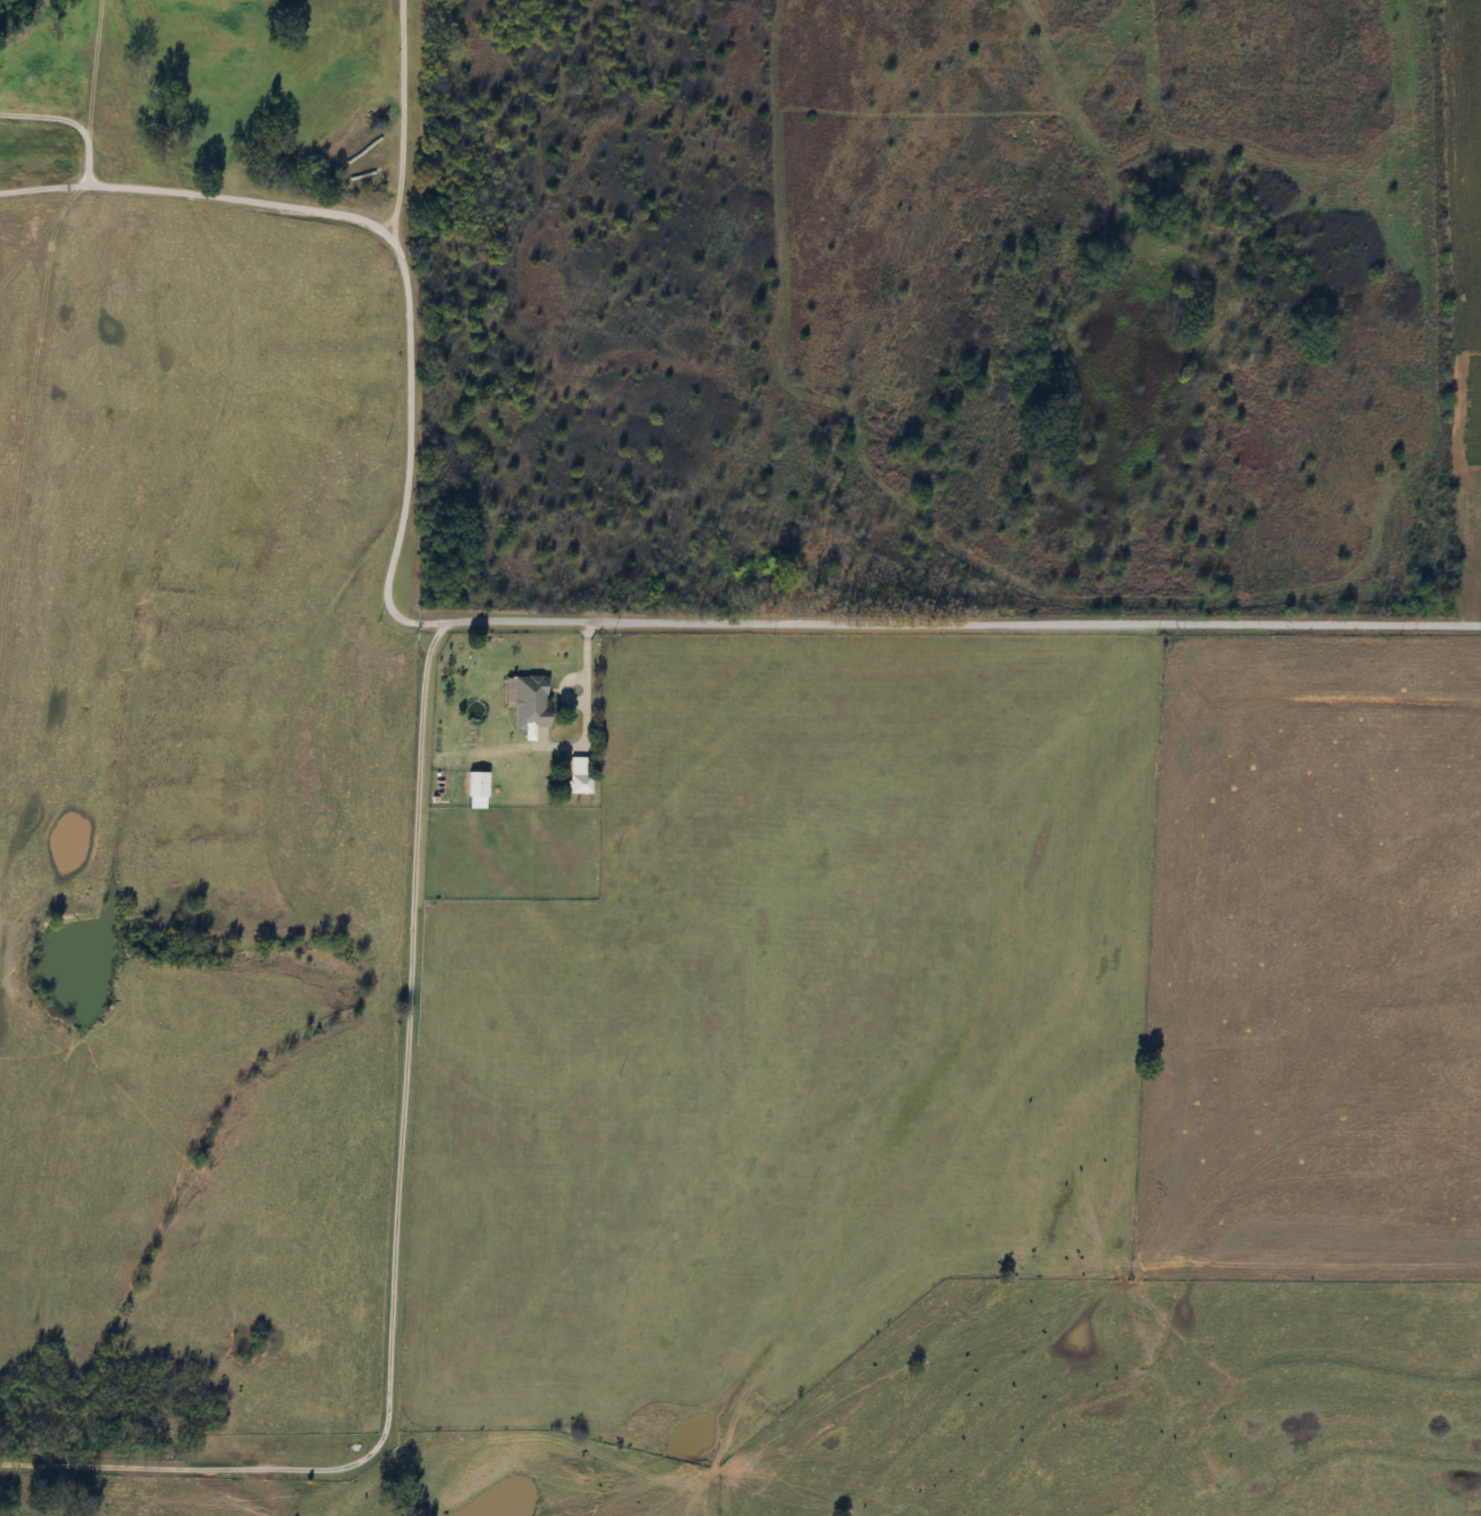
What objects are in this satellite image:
road: (71, 124)
road: (385, 233)
road: (897, 627)
building: (525, 705)
road: (588, 712)
building: (577, 785)
building: (475, 792)
road: (398, 1232)

